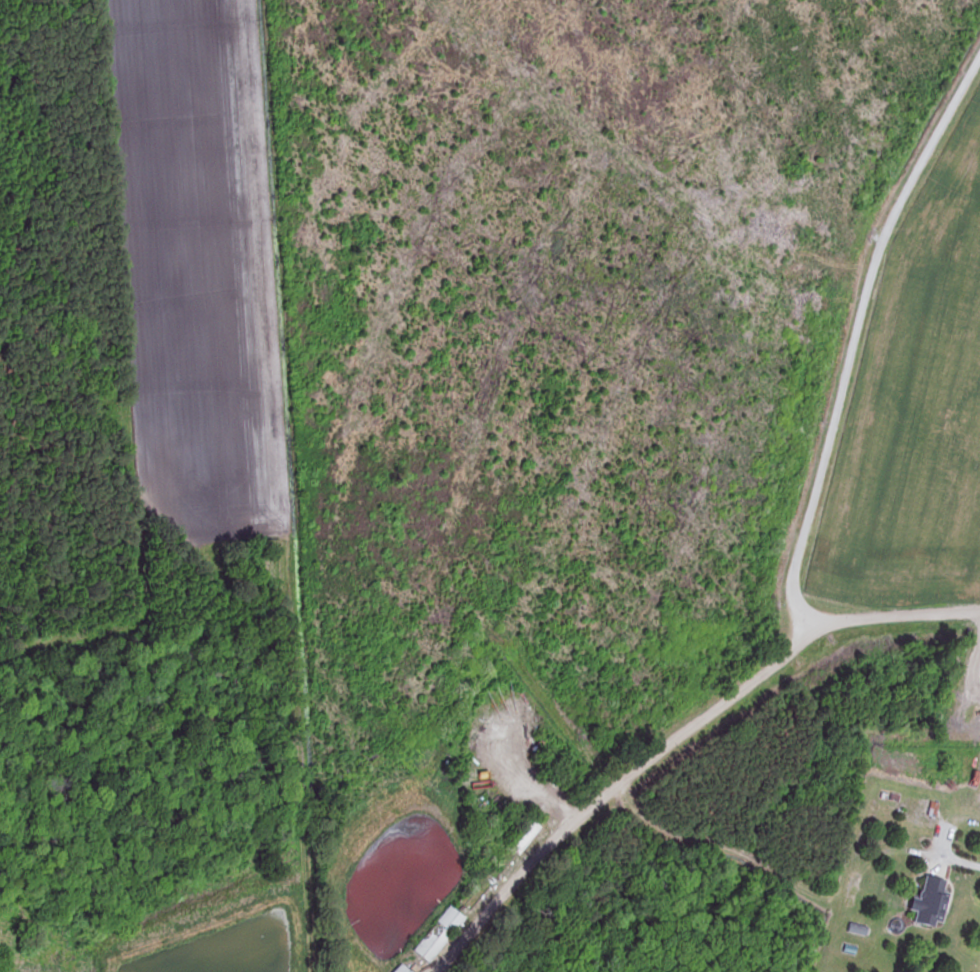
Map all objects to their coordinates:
road: (679, 737)
building: (516, 835)
road: (961, 863)
building: (922, 901)
building: (433, 934)
building: (395, 969)

